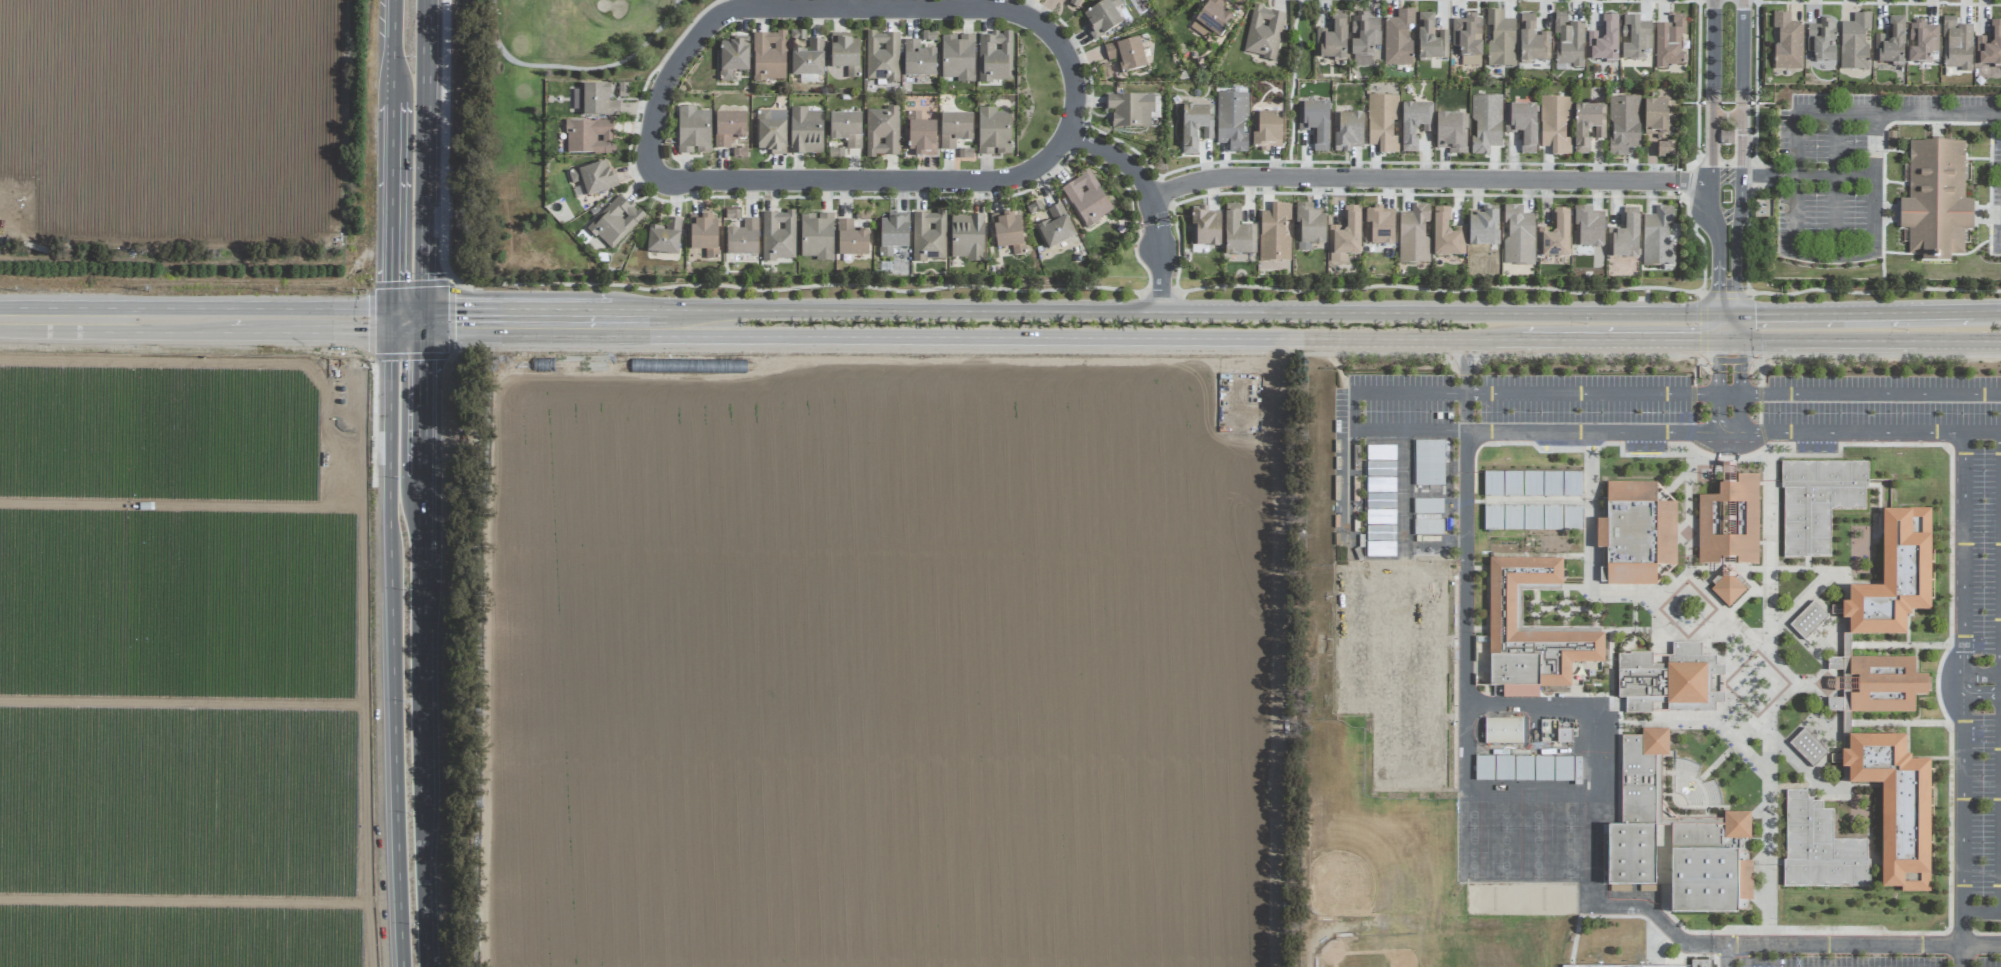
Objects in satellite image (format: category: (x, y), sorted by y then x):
road: (850, 0)
road: (856, 1)
building: (1075, 2)
building: (1102, 18)
building: (1212, 19)
building: (1264, 33)
building: (797, 35)
park: (573, 37)
building: (1364, 38)
building: (1398, 38)
building: (1431, 38)
building: (1333, 39)
building: (1468, 39)
building: (1605, 39)
building: (1635, 39)
building: (1501, 40)
building: (1822, 40)
building: (1532, 41)
building: (1568, 41)
building: (1670, 41)
building: (1921, 41)
building: (1788, 42)
building: (1855, 42)
building: (1890, 43)
building: (1956, 45)
building: (1989, 46)
road: (395, 51)
building: (845, 53)
building: (1126, 54)
building: (769, 56)
building: (882, 56)
building: (733, 57)
building: (958, 57)
building: (994, 57)
building: (918, 60)
building: (808, 62)
road: (575, 67)
building: (1106, 71)
road: (1742, 87)
building: (622, 90)
road: (1713, 91)
building: (595, 100)
building: (1130, 110)
road: (1874, 110)
building: (1232, 121)
building: (1382, 123)
building: (1315, 124)
building: (1413, 124)
building: (1485, 124)
building: (1555, 124)
building: (1623, 124)
building: (1522, 126)
building: (1587, 126)
building: (729, 127)
building: (1194, 128)
building: (846, 129)
building: (955, 129)
building: (1265, 129)
building: (1657, 130)
building: (693, 131)
building: (771, 131)
building: (806, 131)
building: (1347, 131)
building: (882, 132)
building: (994, 132)
building: (1450, 132)
building: (921, 135)
building: (589, 136)
road: (444, 153)
building: (834, 153)
building: (965, 154)
road: (424, 164)
parking lot: (1856, 166)
road: (1834, 168)
road: (1826, 173)
road: (1759, 174)
building: (594, 177)
road: (1430, 179)
road: (870, 182)
road: (1741, 189)
building: (1086, 198)
building: (1936, 199)
road: (1153, 202)
building: (1034, 208)
road: (395, 212)
building: (732, 214)
building: (614, 221)
building: (1482, 226)
building: (1055, 227)
building: (1204, 227)
building: (1307, 227)
building: (1378, 227)
building: (1587, 228)
building: (1008, 232)
building: (1237, 232)
building: (893, 233)
building: (1273, 233)
building: (704, 234)
building: (1413, 234)
building: (1445, 234)
building: (778, 235)
building: (1554, 235)
building: (1625, 235)
building: (817, 236)
building: (929, 236)
building: (1344, 236)
building: (1517, 236)
building: (664, 237)
building: (967, 237)
building: (1657, 237)
building: (743, 238)
building: (851, 239)
road: (1719, 248)
road: (1873, 252)
road: (1736, 259)
road: (1225, 286)
traffic signals: (1719, 299)
road: (520, 307)
road: (1173, 310)
road: (1995, 310)
road: (1858, 312)
traffic signals: (1754, 313)
road: (408, 314)
road: (197, 319)
road: (408, 324)
road: (1727, 326)
road: (967, 333)
road: (1620, 338)
traffic signals: (1700, 339)
road: (1864, 339)
traffic signals: (1728, 362)
road: (1466, 364)
road: (1728, 383)
road: (1733, 391)
road: (1466, 409)
road: (1354, 410)
road: (1885, 429)
road: (1982, 430)
building: (1429, 463)
building: (1728, 473)
building: (1532, 484)
building: (1662, 496)
building: (1817, 501)
building: (1604, 508)
road: (1591, 510)
building: (1493, 517)
building: (1729, 522)
building: (1636, 534)
building: (1604, 557)
building: (1728, 567)
building: (1662, 571)
building: (1894, 577)
building: (1727, 586)
crop: (585, 595)
park: (1353, 602)
park: (1390, 602)
park: (1428, 602)
building: (1518, 609)
building: (1808, 620)
building: (1530, 633)
road: (395, 644)
road: (421, 647)
road: (1736, 658)
building: (1659, 659)
road: (2000, 661)
building: (1834, 663)
park: (1353, 676)
park: (1390, 677)
park: (1427, 677)
building: (1669, 680)
road: (1982, 683)
building: (1885, 684)
building: (1845, 687)
road: (2000, 703)
building: (1834, 704)
building: (1659, 707)
building: (1503, 731)
building: (1554, 732)
building: (1808, 747)
park: (1390, 751)
park: (1427, 751)
building: (1503, 767)
building: (1523, 767)
building: (1484, 768)
building: (1543, 768)
building: (1563, 768)
building: (1577, 771)
building: (1657, 779)
road: (1594, 794)
building: (1896, 805)
building: (1471, 810)
building: (1636, 810)
park: (1504, 814)
park: (1536, 814)
park: (1569, 814)
building: (1859, 814)
road: (2000, 817)
building: (1471, 826)
building: (1471, 842)
building: (1819, 847)
park: (1504, 852)
park: (1536, 853)
park: (1569, 853)
road: (1962, 857)
building: (1471, 858)
building: (1711, 865)
building: (1470, 874)
park: (1520, 899)
road: (1981, 910)
road: (1981, 944)
road: (1724, 955)
road: (1962, 955)
building: (1701, 963)

